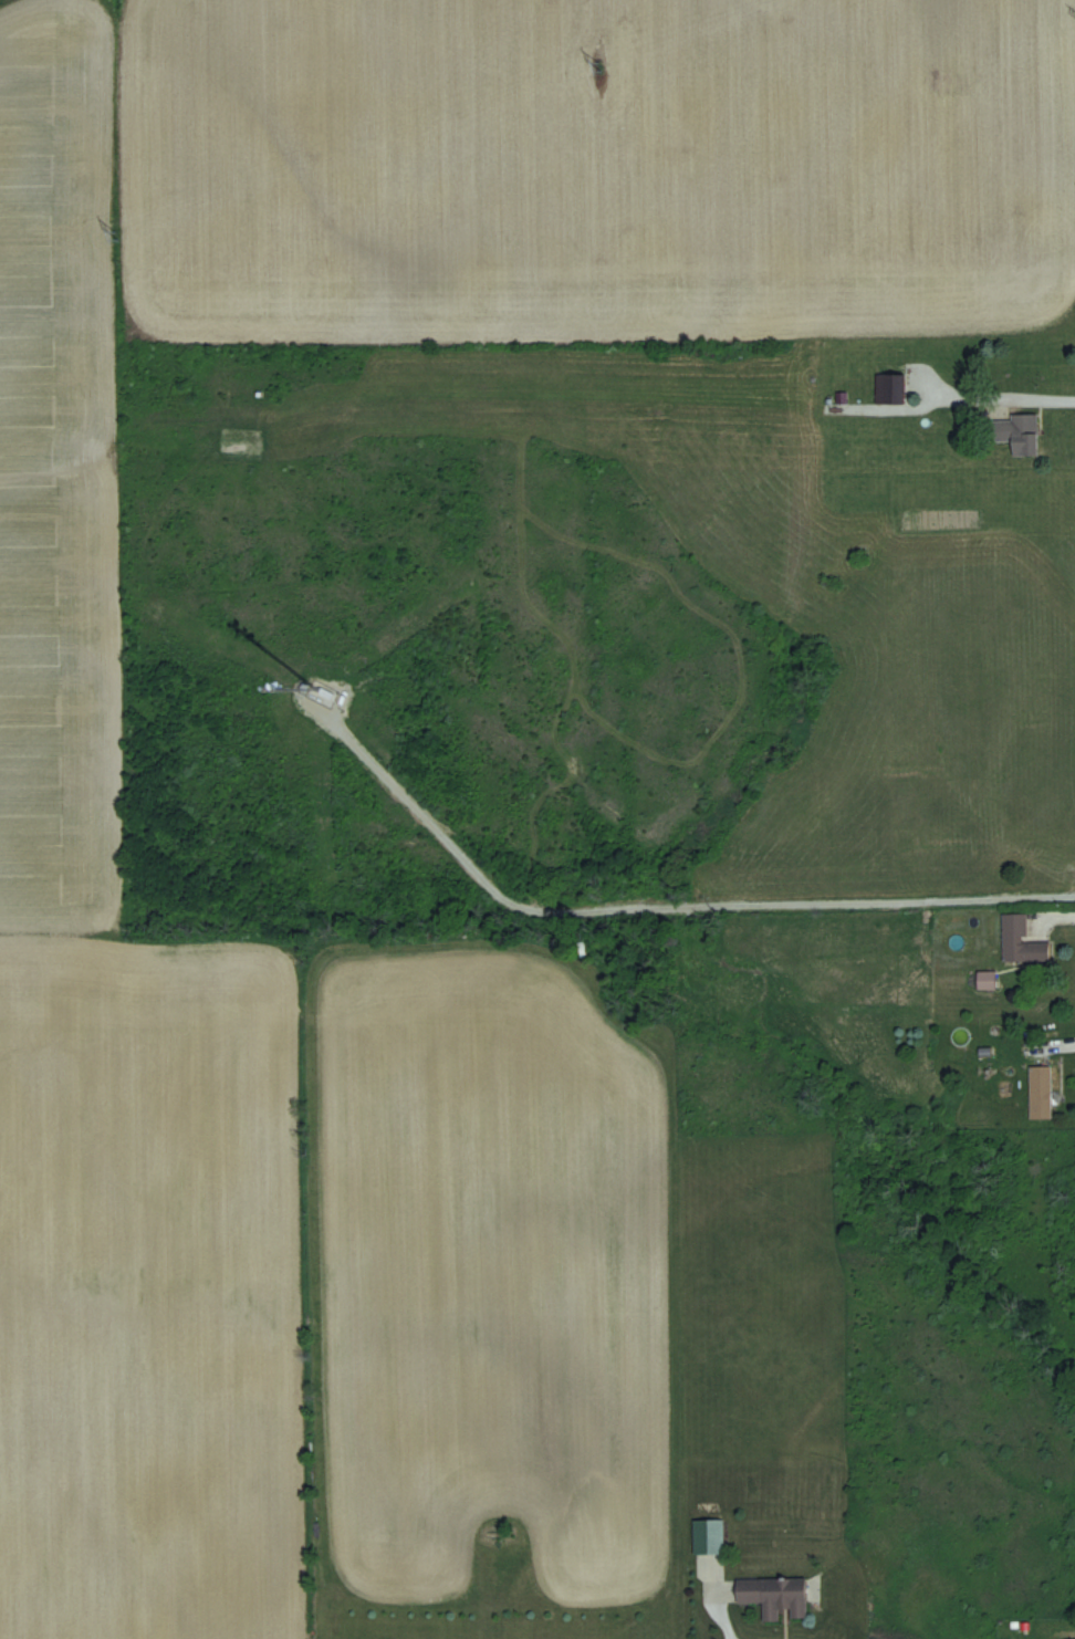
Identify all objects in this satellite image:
building: (889, 389)
road: (1036, 398)
building: (1025, 435)
road: (649, 910)
building: (1022, 941)
building: (987, 980)
building: (1041, 1092)
building: (709, 1536)
building: (775, 1597)
road: (716, 1614)

